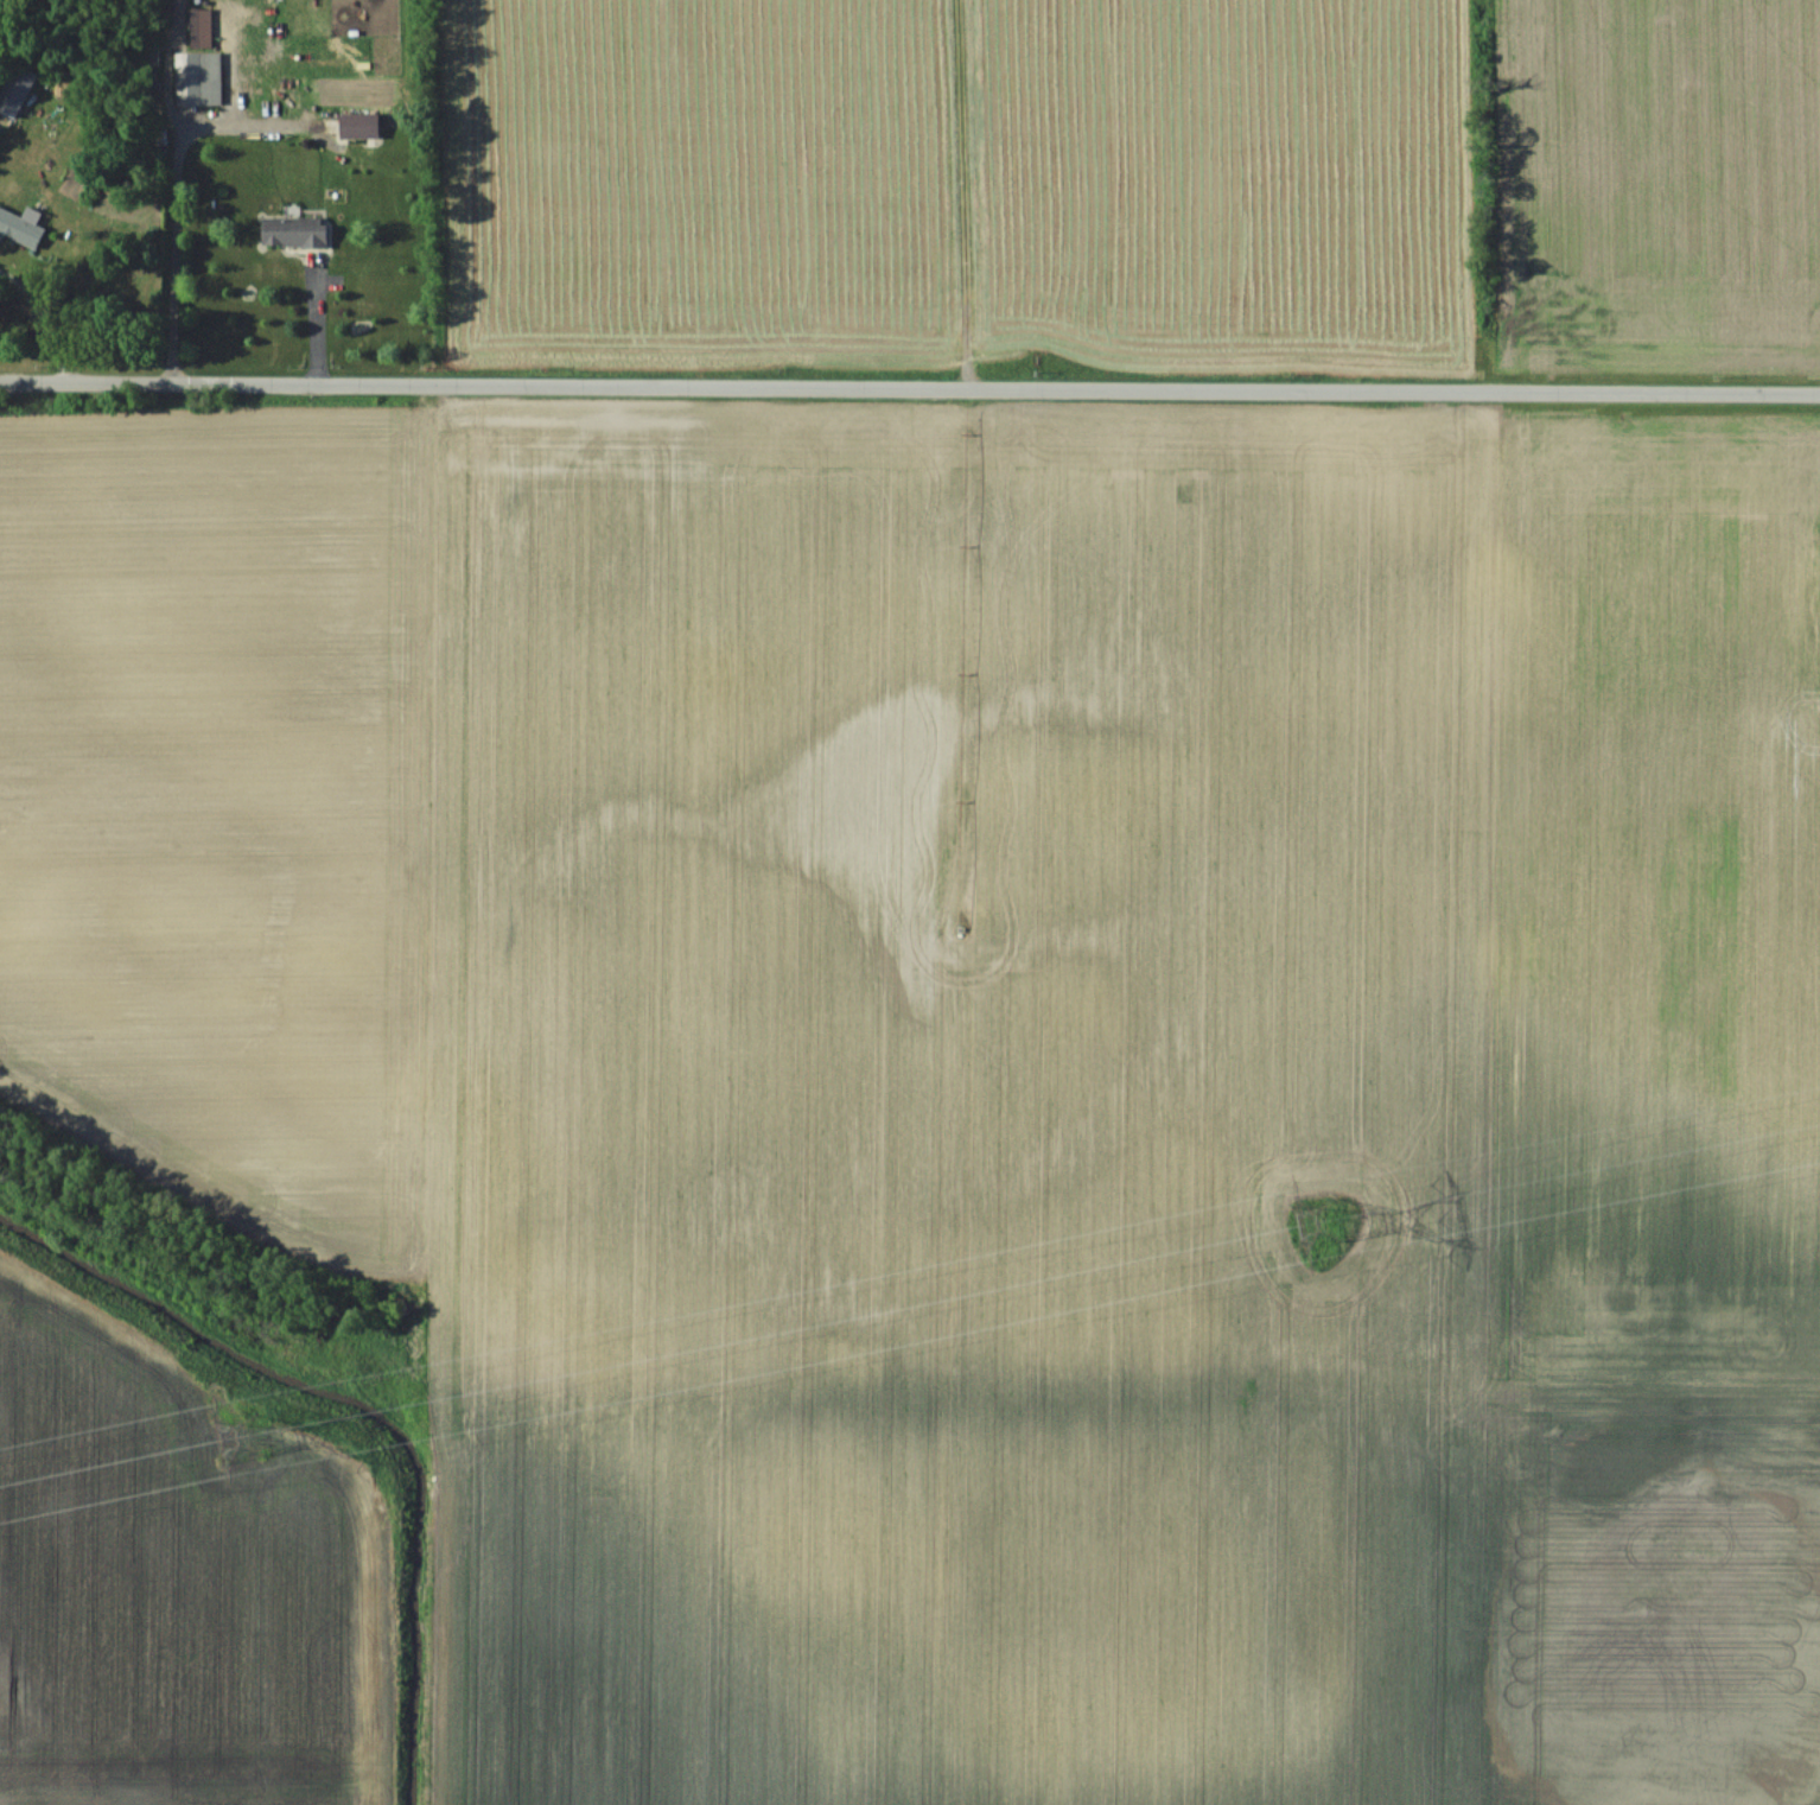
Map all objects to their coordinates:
building: (198, 77)
building: (14, 89)
building: (20, 228)
building: (294, 231)
road: (165, 241)
road: (36, 326)
road: (910, 384)
power tower: (1316, 1212)
power tower: (219, 1432)

